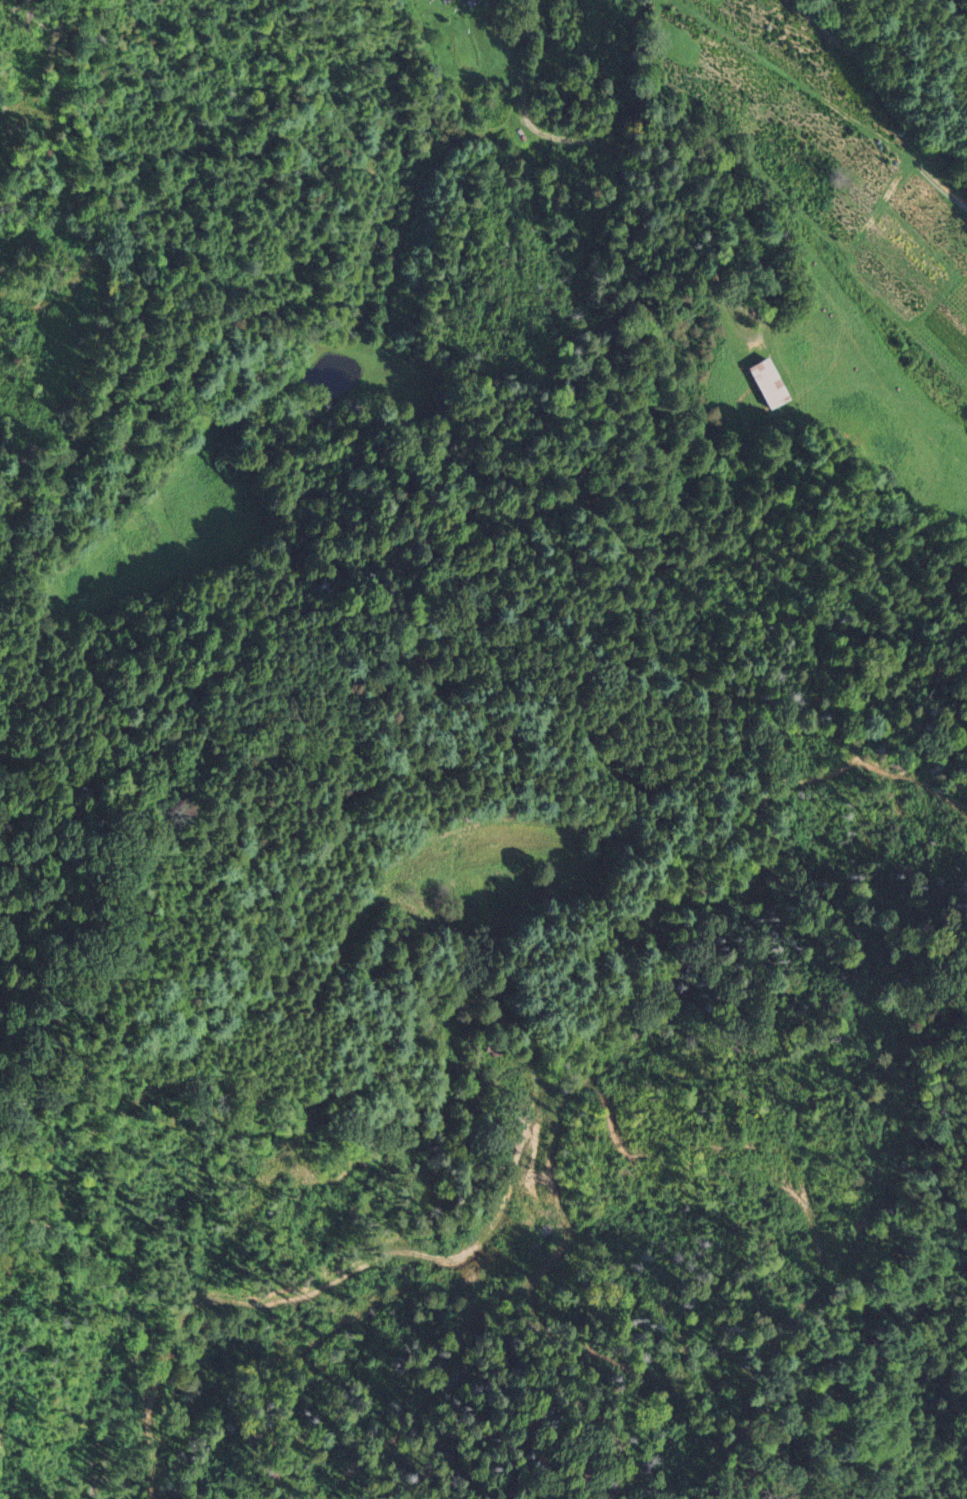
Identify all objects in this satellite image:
road: (942, 189)

